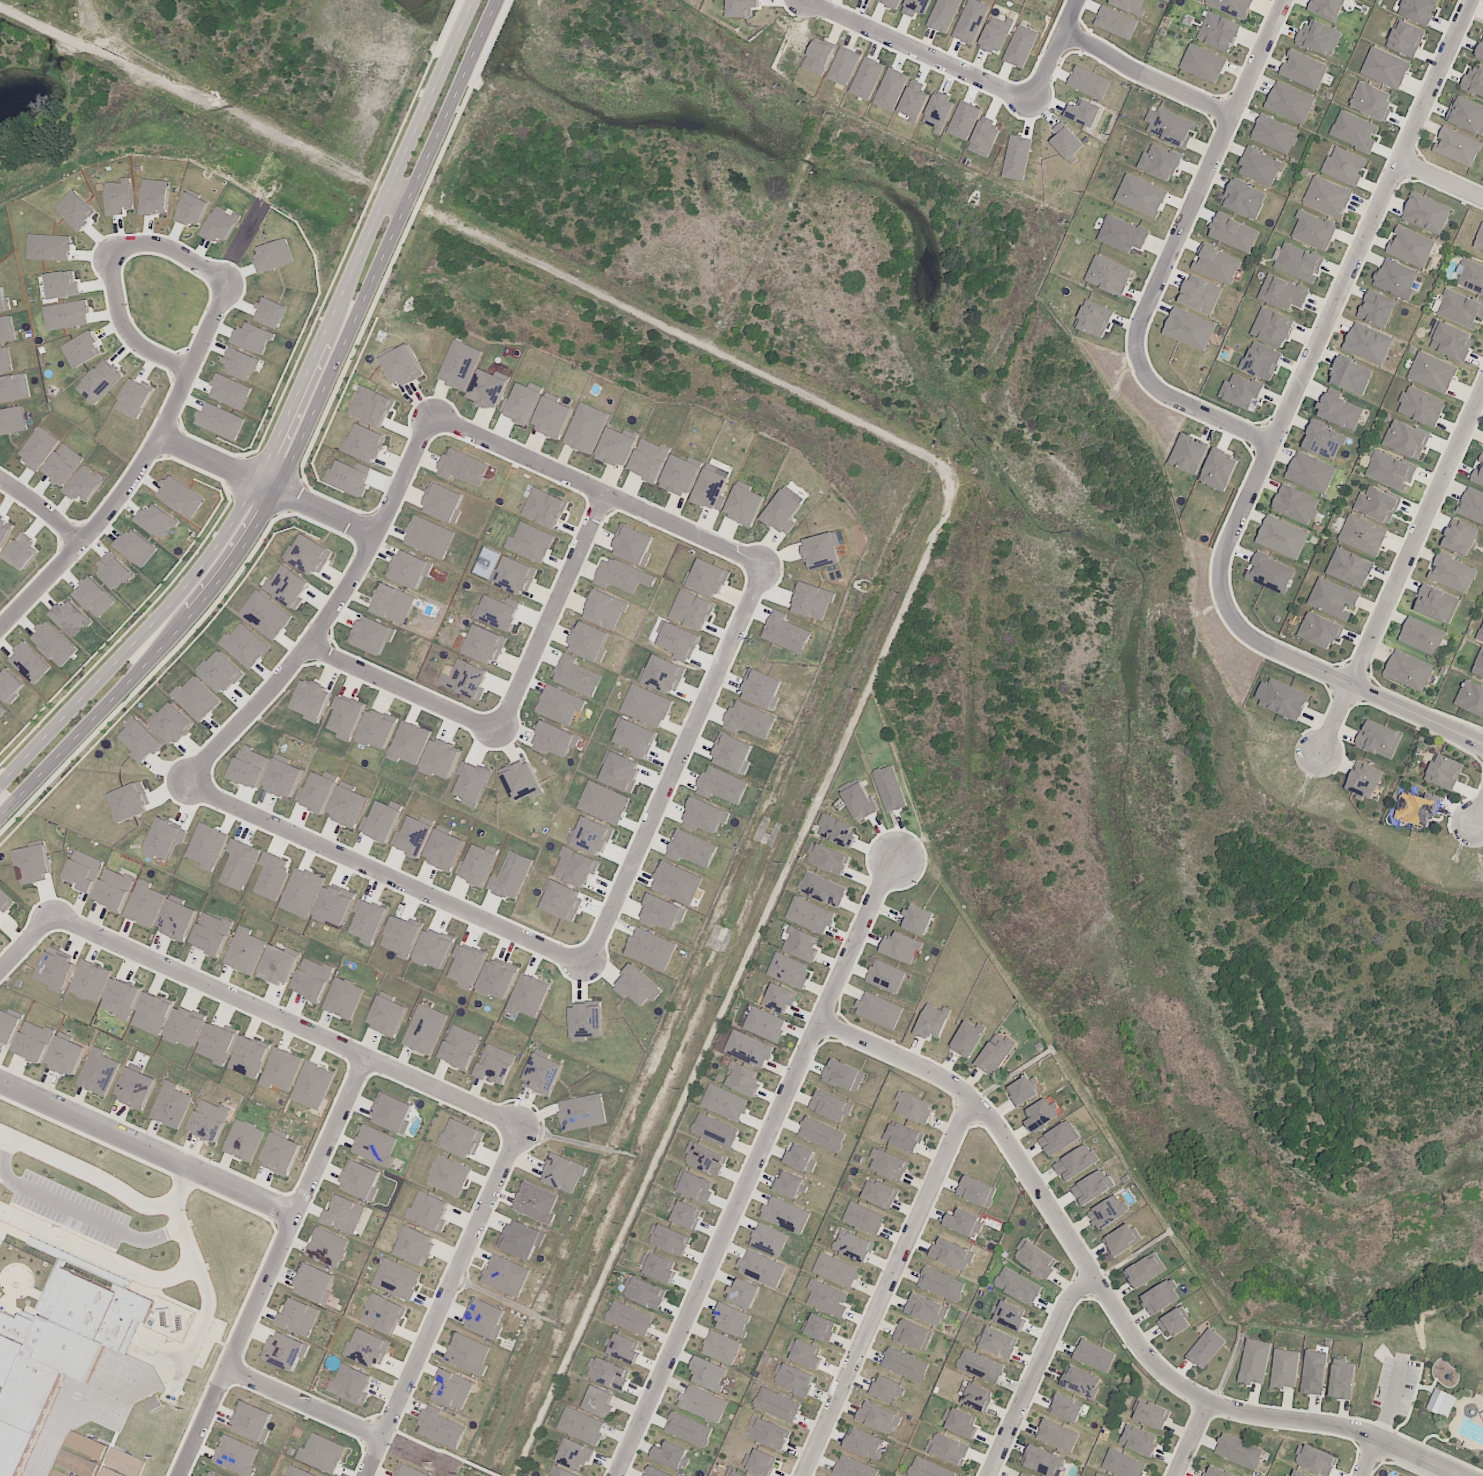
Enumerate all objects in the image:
building: (1052, 0)
road: (814, 1)
building: (890, 3)
building: (1129, 5)
building: (1232, 6)
building: (742, 7)
building: (916, 7)
building: (1327, 8)
building: (1418, 10)
building: (943, 15)
building: (971, 21)
building: (1116, 22)
building: (1218, 31)
building: (996, 34)
building: (1319, 37)
building: (1406, 38)
building: (1020, 46)
building: (1480, 50)
road: (1067, 53)
road: (929, 55)
building: (818, 57)
building: (1203, 63)
building: (843, 66)
building: (1385, 67)
building: (1303, 70)
building: (866, 78)
road: (1158, 80)
building: (1474, 80)
building: (1089, 82)
building: (891, 89)
building: (914, 99)
building: (1371, 101)
building: (1289, 102)
building: (939, 112)
building: (1084, 112)
building: (1466, 114)
building: (964, 120)
building: (1172, 127)
building: (1355, 131)
building: (1274, 134)
building: (984, 139)
building: (1066, 141)
building: (1456, 146)
building: (1017, 157)
building: (1159, 163)
building: (1344, 165)
building: (1260, 166)
road: (1218, 177)
road: (1446, 181)
building: (1141, 195)
building: (1327, 197)
building: (1244, 199)
building: (1426, 213)
building: (1313, 230)
building: (1234, 232)
building: (1122, 234)
building: (1479, 240)
building: (1411, 246)
road: (171, 248)
building: (1299, 263)
building: (1217, 265)
building: (1108, 275)
building: (1471, 275)
building: (1395, 278)
building: (1282, 293)
building: (1200, 294)
road: (1349, 300)
building: (1460, 308)
building: (1376, 309)
building: (1094, 318)
road: (125, 327)
building: (1272, 327)
building: (1189, 328)
building: (1450, 341)
building: (1368, 343)
building: (1262, 361)
building: (402, 365)
building: (459, 365)
building: (1432, 372)
building: (1351, 376)
building: (487, 389)
building: (1241, 392)
building: (521, 404)
building: (371, 406)
building: (1421, 406)
building: (1339, 411)
road: (1206, 413)
building: (552, 417)
building: (585, 428)
road: (293, 432)
building: (1406, 439)
building: (1323, 440)
building: (364, 443)
building: (615, 447)
road: (308, 451)
building: (1188, 453)
building: (648, 459)
building: (462, 467)
building: (1219, 469)
building: (1390, 470)
road: (138, 472)
building: (1310, 472)
building: (1479, 473)
building: (680, 475)
building: (348, 478)
road: (268, 481)
road: (598, 486)
building: (710, 489)
building: (443, 503)
building: (1295, 504)
building: (1377, 504)
building: (744, 505)
building: (1471, 505)
road: (43, 508)
building: (544, 508)
building: (782, 512)
building: (1362, 534)
building: (429, 536)
building: (1282, 537)
building: (1459, 537)
building: (531, 541)
building: (633, 545)
building: (822, 549)
building: (307, 555)
building: (1349, 567)
building: (409, 569)
building: (1270, 573)
building: (1452, 573)
building: (514, 576)
building: (622, 576)
building: (706, 578)
road: (1404, 580)
building: (287, 586)
building: (1333, 598)
building: (812, 601)
building: (393, 603)
building: (1436, 604)
building: (604, 609)
road: (552, 610)
building: (497, 613)
road: (327, 614)
building: (1320, 630)
building: (786, 633)
building: (1480, 633)
building: (371, 634)
building: (1421, 636)
building: (589, 642)
building: (483, 644)
building: (245, 645)
building: (1478, 665)
building: (1408, 670)
building: (220, 672)
building: (576, 676)
building: (467, 678)
road: (1350, 682)
road: (402, 687)
building: (761, 689)
building: (1471, 698)
building: (196, 699)
building: (311, 699)
building: (1284, 699)
building: (560, 704)
building: (345, 717)
building: (750, 720)
building: (376, 729)
building: (554, 739)
building: (1378, 739)
building: (140, 740)
building: (408, 743)
building: (731, 752)
building: (440, 759)
road: (675, 762)
building: (249, 767)
building: (1444, 771)
building: (283, 778)
building: (1364, 779)
building: (521, 781)
building: (472, 783)
building: (723, 785)
building: (890, 788)
road: (822, 795)
building: (859, 800)
building: (129, 802)
building: (1416, 809)
building: (705, 816)
road: (1482, 820)
building: (836, 830)
building: (591, 836)
building: (165, 839)
building: (207, 846)
building: (691, 849)
building: (827, 858)
building: (33, 863)
building: (239, 864)
building: (479, 865)
building: (84, 871)
road: (380, 873)
building: (272, 875)
building: (511, 875)
building: (677, 882)
building: (114, 889)
building: (823, 889)
building: (302, 892)
building: (562, 901)
building: (4, 902)
building: (145, 904)
building: (334, 906)
building: (661, 913)
building: (810, 914)
building: (177, 919)
building: (918, 920)
building: (211, 933)
road: (26, 944)
building: (801, 944)
building: (901, 947)
building: (650, 948)
building: (245, 951)
building: (279, 965)
building: (789, 969)
building: (56, 971)
building: (886, 976)
building: (312, 979)
building: (89, 981)
building: (637, 986)
building: (120, 998)
building: (344, 998)
building: (780, 998)
building: (879, 1010)
building: (152, 1013)
building: (387, 1016)
building: (585, 1021)
building: (932, 1021)
road: (287, 1022)
building: (765, 1024)
building: (8, 1026)
building: (184, 1026)
building: (425, 1029)
building: (967, 1039)
building: (34, 1041)
building: (216, 1042)
building: (460, 1047)
building: (749, 1048)
building: (994, 1054)
building: (65, 1055)
building: (248, 1057)
building: (495, 1064)
building: (281, 1069)
building: (98, 1071)
building: (543, 1074)
building: (843, 1075)
building: (743, 1079)
building: (313, 1085)
building: (136, 1088)
building: (1022, 1091)
building: (724, 1102)
building: (171, 1105)
building: (830, 1105)
building: (913, 1106)
building: (582, 1112)
building: (392, 1113)
building: (1040, 1114)
building: (209, 1120)
building: (715, 1130)
building: (822, 1134)
building: (903, 1136)
building: (1059, 1138)
building: (461, 1139)
building: (244, 1140)
building: (375, 1145)
road: (148, 1146)
building: (281, 1153)
building: (705, 1158)
building: (800, 1158)
road: (757, 1162)
building: (1076, 1162)
building: (888, 1164)
road: (88, 1170)
building: (563, 1173)
building: (449, 1175)
building: (360, 1180)
building: (790, 1185)
building: (694, 1186)
building: (1092, 1187)
building: (977, 1191)
building: (880, 1194)
building: (536, 1202)
road: (77, 1207)
building: (429, 1210)
building: (1109, 1211)
building: (344, 1214)
building: (685, 1214)
building: (786, 1215)
building: (863, 1217)
building: (963, 1222)
building: (521, 1239)
building: (669, 1239)
building: (1122, 1239)
building: (769, 1240)
building: (414, 1245)
building: (853, 1246)
building: (327, 1247)
road: (100, 1251)
building: (952, 1254)
road: (199, 1255)
building: (1035, 1259)
road: (272, 1267)
building: (659, 1267)
building: (762, 1269)
building: (836, 1270)
building: (1145, 1271)
building: (505, 1275)
building: (397, 1278)
building: (314, 1283)
building: (942, 1284)
road: (884, 1286)
building: (1018, 1286)
building: (743, 1292)
building: (644, 1293)
building: (1161, 1296)
building: (827, 1298)
road: (1105, 1299)
road: (441, 1301)
building: (926, 1310)
building: (383, 1313)
building: (1010, 1315)
building: (298, 1317)
building: (485, 1318)
building: (629, 1318)
building: (732, 1320)
building: (1173, 1322)
building: (820, 1328)
building: (913, 1335)
building: (997, 1341)
building: (721, 1347)
building: (623, 1348)
building: (1205, 1348)
building: (285, 1351)
building: (56, 1352)
building: (804, 1353)
building: (468, 1354)
building: (1094, 1355)
building: (1254, 1361)
building: (905, 1364)
building: (980, 1366)
building: (1284, 1368)
building: (1314, 1372)
building: (608, 1373)
building: (709, 1373)
road: (1035, 1374)
building: (793, 1379)
building: (1342, 1379)
building: (1081, 1382)
building: (351, 1384)
building: (886, 1388)
building: (453, 1389)
building: (976, 1396)
road: (302, 1402)
building: (599, 1402)
building: (1441, 1402)
building: (153, 1403)
building: (703, 1404)
building: (777, 1404)
building: (1066, 1407)
building: (1151, 1414)
building: (878, 1417)
building: (252, 1422)
building: (960, 1423)
building: (581, 1425)
building: (440, 1428)
building: (688, 1429)
building: (768, 1433)
building: (1057, 1435)
road: (1191, 1438)
building: (1139, 1440)
building: (864, 1443)
building: (948, 1448)
building: (1239, 1451)
building: (322, 1453)
building: (574, 1454)
building: (236, 1455)
building: (671, 1455)
road: (1368, 1457)
building: (1042, 1460)
building: (1315, 1460)
building: (760, 1462)
building: (1123, 1464)
building: (854, 1468)
building: (928, 1468)
building: (410, 1471)
building: (299, 1472)
building: (561, 1472)
building: (656, 1472)
building: (1215, 1472)
building: (733, 1473)
building: (214, 1474)
building: (1099, 1474)
building: (1297, 1474)
building: (1022, 1475)

